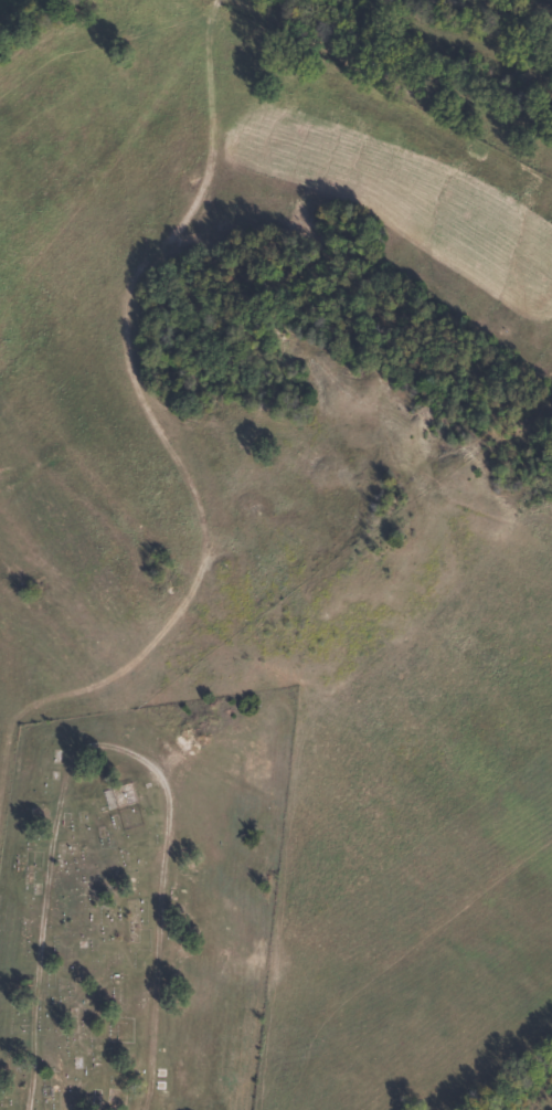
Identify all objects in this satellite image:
park: (139, 903)

